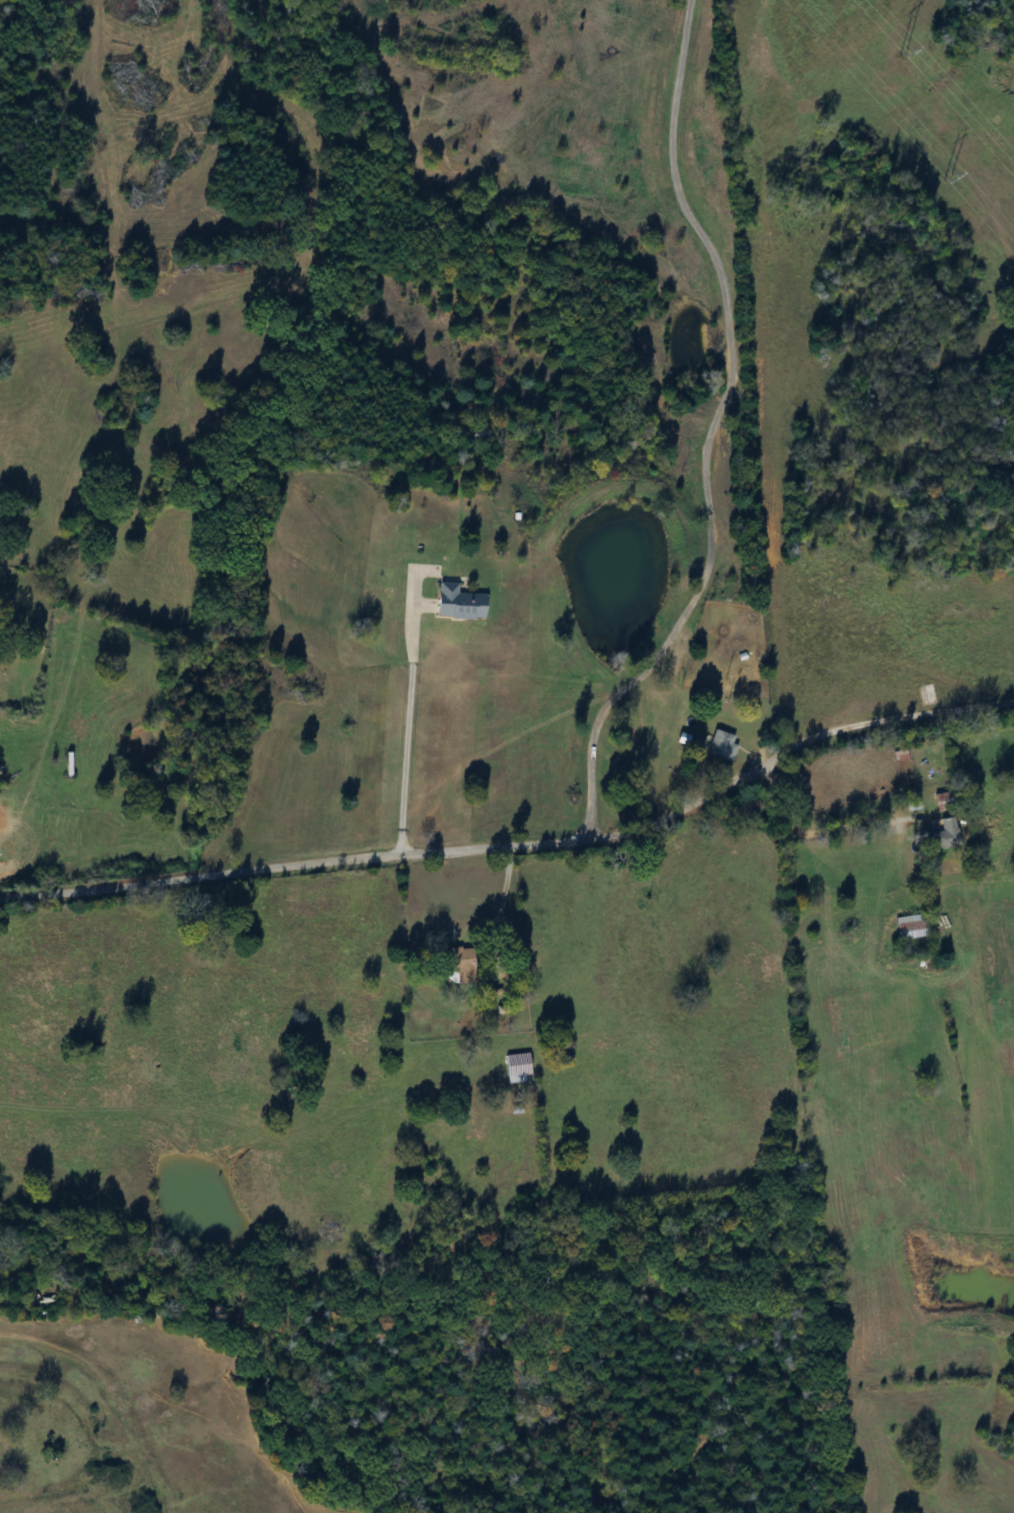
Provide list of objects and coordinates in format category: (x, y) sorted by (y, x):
power tower: (884, 49)
road: (713, 431)
building: (455, 603)
road: (409, 719)
building: (721, 746)
building: (911, 804)
road: (819, 830)
building: (943, 834)
road: (520, 845)
building: (909, 927)

